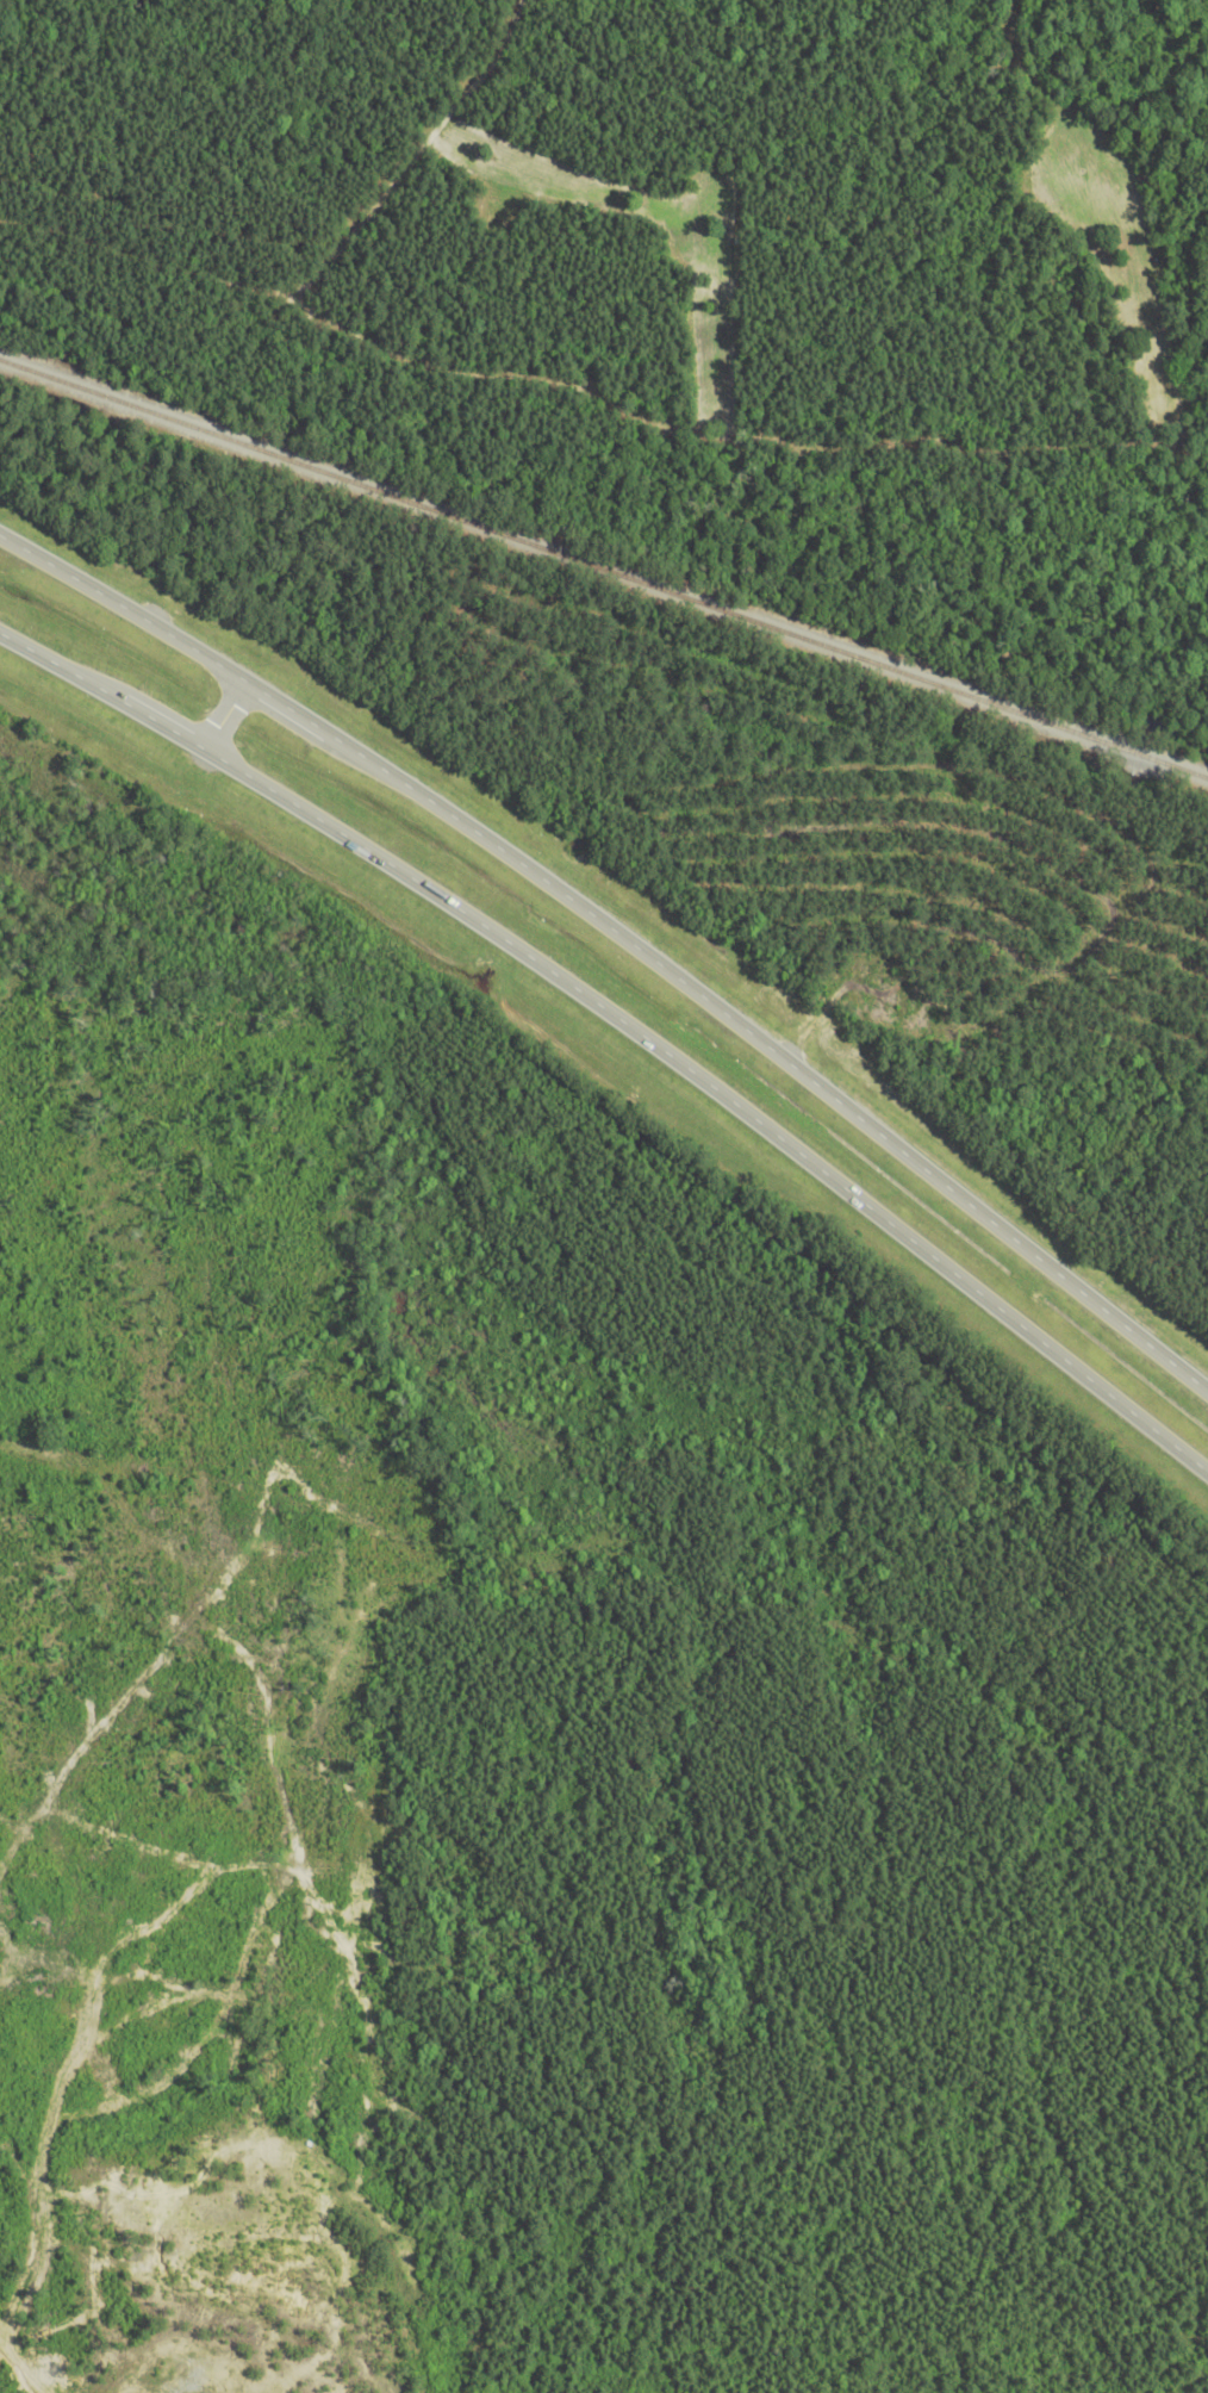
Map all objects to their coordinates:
railway: (602, 582)
road: (216, 714)
road: (623, 940)
road: (623, 1028)

